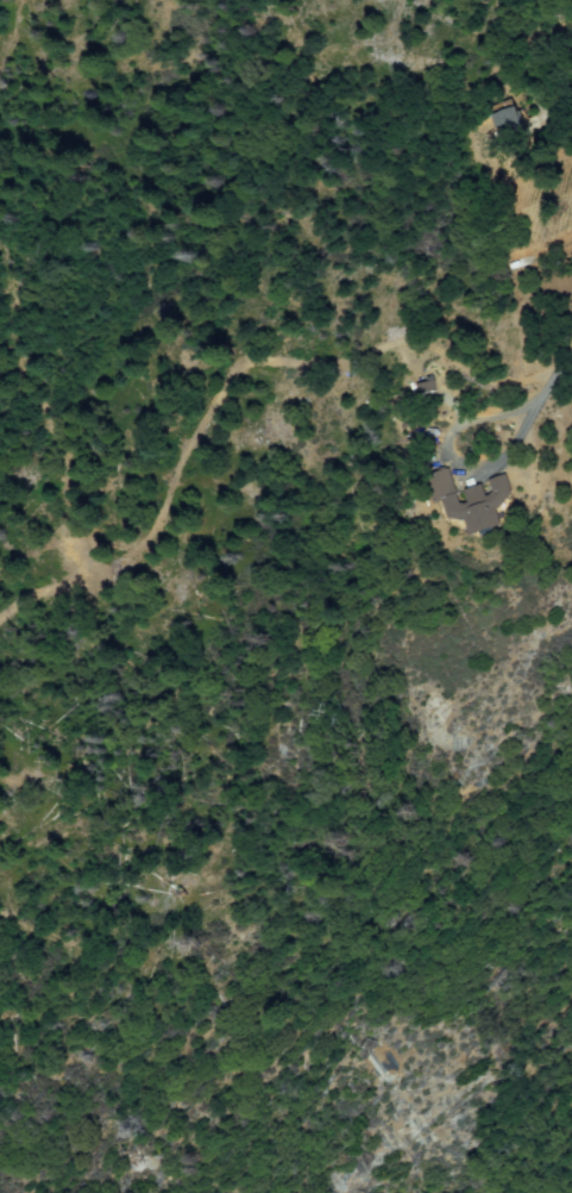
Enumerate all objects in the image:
building: (511, 130)
building: (489, 499)

